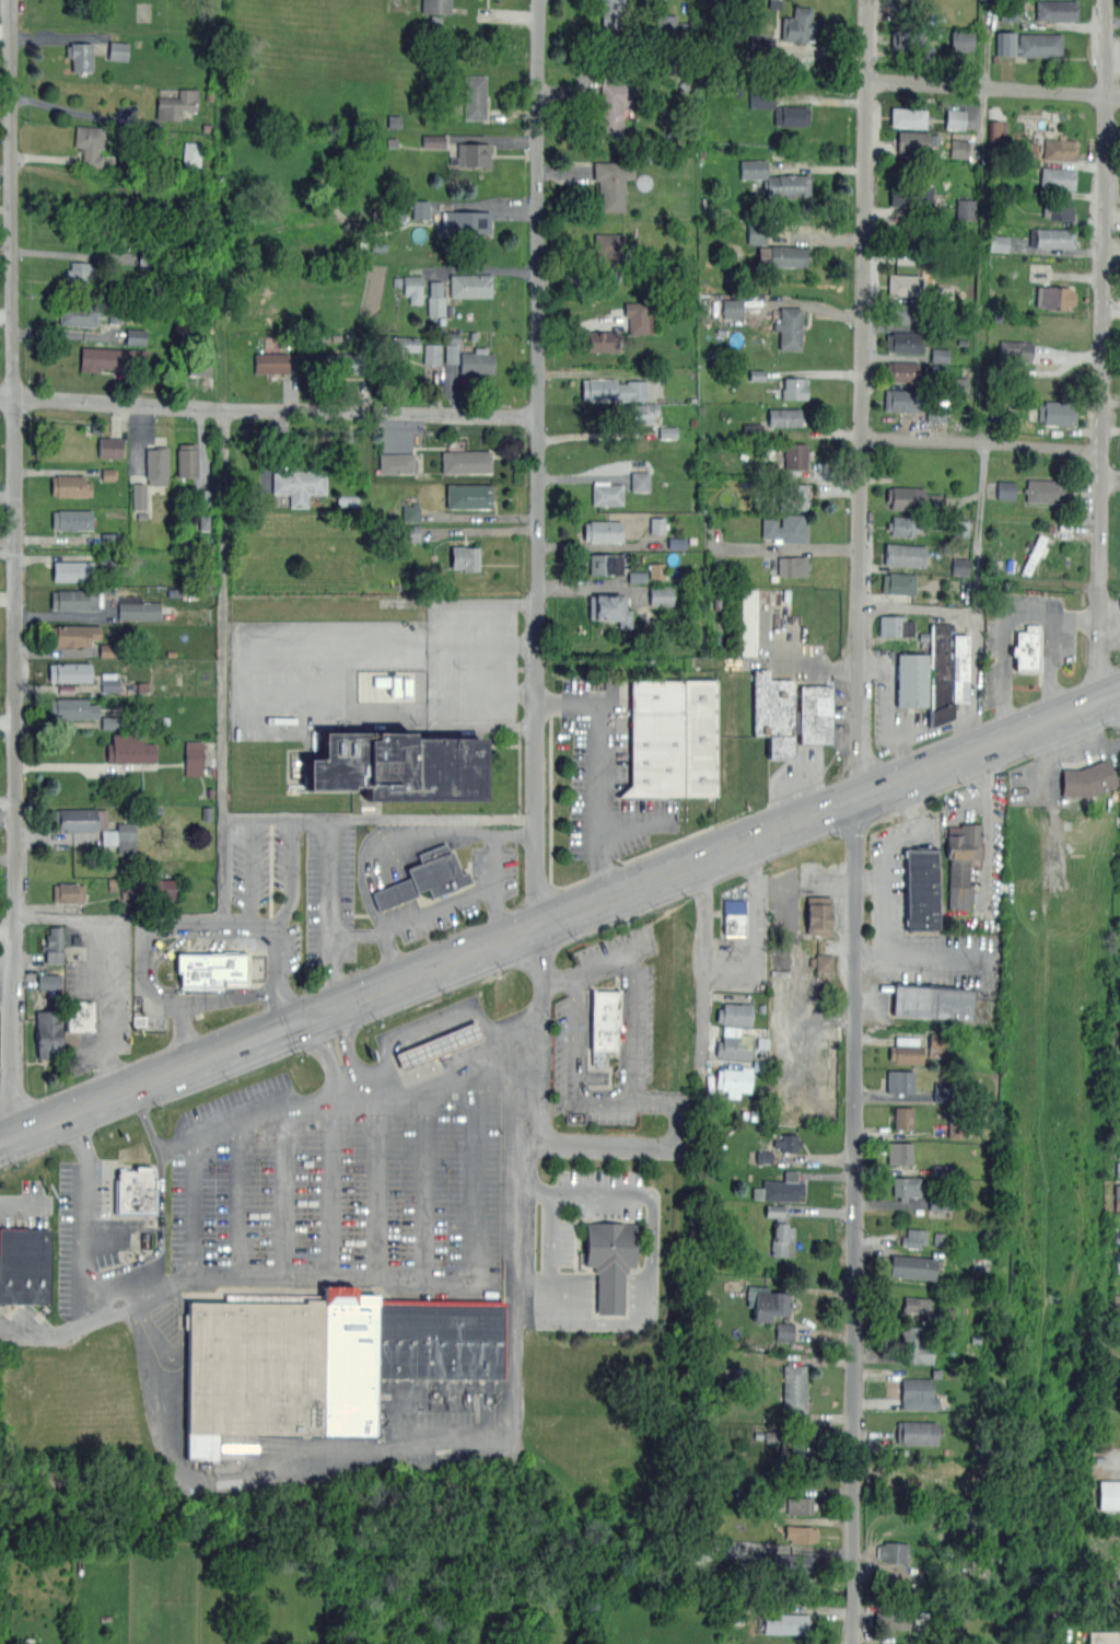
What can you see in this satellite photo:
building: (436, 7)
building: (1057, 10)
building: (609, 12)
building: (798, 25)
building: (673, 27)
road: (57, 37)
building: (906, 39)
building: (960, 40)
building: (1039, 45)
building: (118, 50)
building: (79, 55)
road: (992, 85)
building: (474, 96)
building: (761, 100)
building: (175, 103)
building: (614, 105)
road: (81, 113)
building: (791, 116)
building: (907, 117)
building: (956, 118)
building: (994, 130)
building: (433, 140)
building: (913, 142)
building: (89, 143)
building: (958, 148)
building: (1060, 149)
building: (471, 153)
building: (1058, 178)
building: (774, 180)
building: (611, 182)
building: (910, 194)
building: (965, 208)
building: (419, 209)
building: (1058, 209)
building: (465, 222)
building: (757, 234)
building: (1054, 238)
building: (997, 243)
building: (608, 247)
building: (782, 255)
road: (483, 270)
building: (80, 273)
building: (905, 283)
building: (470, 285)
building: (413, 289)
building: (943, 296)
building: (1054, 297)
building: (435, 298)
building: (733, 308)
building: (901, 313)
building: (81, 314)
building: (639, 317)
building: (789, 327)
building: (136, 336)
building: (602, 341)
building: (902, 341)
building: (398, 344)
building: (452, 347)
building: (1015, 350)
road: (1102, 351)
building: (432, 354)
building: (940, 355)
building: (110, 357)
building: (270, 362)
building: (341, 362)
building: (476, 362)
building: (199, 367)
building: (901, 371)
building: (958, 383)
building: (793, 387)
building: (614, 390)
building: (905, 400)
building: (936, 409)
road: (268, 410)
building: (644, 412)
building: (1055, 413)
building: (772, 421)
building: (667, 432)
road: (982, 443)
building: (109, 447)
building: (796, 454)
building: (186, 460)
building: (465, 462)
building: (395, 463)
road: (537, 463)
building: (156, 465)
road: (1111, 472)
building: (108, 474)
building: (640, 481)
building: (300, 484)
building: (70, 485)
building: (1005, 489)
building: (1048, 491)
building: (606, 493)
building: (139, 496)
building: (202, 496)
building: (468, 496)
building: (794, 497)
building: (347, 499)
building: (912, 499)
building: (410, 513)
building: (141, 516)
building: (72, 519)
building: (203, 522)
building: (656, 525)
building: (903, 525)
building: (1051, 528)
building: (785, 529)
building: (603, 530)
building: (410, 533)
building: (692, 540)
building: (677, 543)
building: (108, 551)
building: (905, 554)
building: (1035, 554)
building: (464, 557)
building: (600, 564)
building: (791, 565)
building: (959, 565)
building: (997, 565)
building: (1008, 565)
road: (14, 568)
building: (657, 569)
building: (72, 570)
building: (898, 582)
building: (173, 591)
building: (661, 595)
building: (75, 600)
building: (137, 609)
building: (610, 609)
road: (930, 609)
road: (1018, 613)
parking lot: (1118, 615)
road: (1110, 620)
road: (1076, 621)
building: (748, 622)
building: (896, 625)
building: (73, 634)
parking lot: (1060, 646)
building: (109, 649)
building: (171, 651)
building: (1029, 652)
road: (224, 667)
building: (946, 671)
building: (70, 672)
parking lot: (378, 675)
parking lot: (886, 676)
building: (912, 679)
building: (109, 681)
building: (142, 686)
building: (66, 688)
road: (604, 703)
building: (72, 708)
building: (791, 714)
parking lot: (842, 716)
building: (165, 719)
building: (110, 721)
road: (920, 736)
road: (968, 737)
building: (130, 749)
road: (1082, 752)
building: (655, 754)
building: (194, 757)
road: (905, 760)
road: (1043, 760)
road: (832, 762)
building: (398, 767)
building: (211, 771)
parking lot: (606, 775)
parking lot: (1066, 775)
parking lot: (798, 776)
building: (1087, 778)
building: (210, 792)
road: (598, 800)
road: (8, 806)
building: (207, 813)
building: (79, 820)
road: (989, 820)
road: (380, 821)
road: (856, 821)
road: (637, 823)
road: (404, 833)
building: (120, 836)
parking lot: (980, 849)
road: (385, 856)
building: (961, 861)
road: (459, 868)
road: (253, 871)
road: (883, 871)
building: (424, 880)
road: (870, 880)
building: (113, 883)
parking lot: (270, 887)
parking lot: (492, 888)
building: (162, 889)
parking lot: (888, 889)
building: (922, 889)
building: (129, 890)
building: (68, 892)
road: (450, 893)
road: (291, 907)
road: (437, 907)
road: (400, 913)
road: (500, 913)
road: (332, 914)
building: (818, 914)
road: (353, 915)
building: (734, 916)
road: (121, 917)
road: (560, 917)
road: (752, 927)
building: (52, 945)
parking lot: (743, 945)
road: (393, 954)
road: (934, 960)
road: (595, 962)
road: (707, 962)
building: (824, 962)
road: (144, 963)
building: (213, 969)
road: (8, 975)
building: (49, 981)
building: (779, 984)
parking lot: (100, 991)
road: (179, 991)
road: (803, 996)
building: (932, 1002)
road: (108, 1007)
road: (284, 1008)
building: (735, 1014)
building: (81, 1016)
road: (329, 1021)
road: (534, 1021)
building: (603, 1023)
building: (47, 1034)
road: (188, 1034)
parking lot: (609, 1037)
road: (803, 1042)
building: (733, 1043)
building: (437, 1044)
building: (937, 1044)
parking lot: (802, 1046)
building: (906, 1050)
road: (349, 1051)
road: (329, 1057)
building: (734, 1080)
building: (899, 1080)
road: (348, 1083)
road: (5, 1086)
building: (941, 1091)
road: (335, 1092)
road: (616, 1098)
building: (902, 1118)
road: (145, 1119)
building: (957, 1127)
building: (786, 1143)
road: (176, 1145)
road: (647, 1148)
building: (899, 1153)
building: (1118, 1168)
building: (944, 1171)
road: (478, 1178)
building: (906, 1185)
road: (330, 1186)
road: (377, 1186)
road: (424, 1186)
building: (780, 1188)
building: (135, 1191)
road: (288, 1193)
road: (582, 1193)
building: (1117, 1196)
road: (235, 1202)
building: (940, 1203)
parking lot: (26, 1206)
road: (23, 1208)
road: (194, 1209)
road: (86, 1216)
building: (780, 1231)
building: (1117, 1236)
road: (110, 1237)
building: (914, 1238)
building: (938, 1238)
parking lot: (101, 1240)
parking lot: (600, 1250)
road: (650, 1251)
road: (152, 1254)
road: (550, 1260)
parking lot: (354, 1261)
building: (609, 1261)
building: (1117, 1262)
building: (24, 1265)
building: (912, 1266)
road: (241, 1278)
road: (380, 1280)
road: (573, 1290)
road: (609, 1290)
building: (1117, 1299)
building: (770, 1304)
building: (915, 1304)
road: (98, 1317)
building: (1116, 1323)
building: (784, 1331)
building: (914, 1345)
building: (320, 1362)
building: (794, 1389)
building: (918, 1393)
building: (917, 1432)
road: (433, 1449)
building: (1109, 1494)
building: (798, 1505)
building: (801, 1533)
building: (891, 1550)
building: (801, 1563)
building: (894, 1618)
building: (785, 1622)
building: (1101, 1636)

